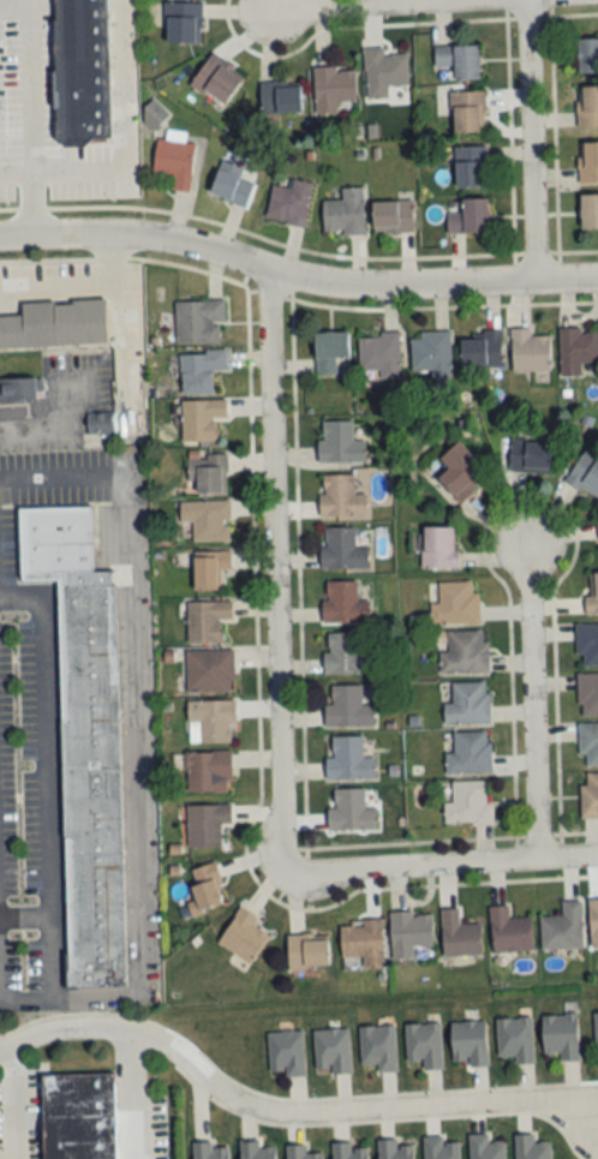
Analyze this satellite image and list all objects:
road: (531, 0)
road: (399, 6)
building: (183, 23)
building: (588, 55)
building: (459, 61)
building: (80, 71)
building: (383, 72)
building: (217, 79)
building: (333, 88)
building: (281, 98)
building: (587, 107)
building: (468, 112)
road: (526, 141)
building: (174, 162)
building: (587, 162)
building: (470, 167)
road: (56, 172)
building: (231, 185)
road: (29, 203)
building: (289, 203)
building: (588, 211)
building: (345, 213)
building: (393, 216)
building: (470, 217)
road: (295, 279)
road: (72, 283)
road: (295, 298)
building: (198, 322)
building: (55, 325)
building: (483, 350)
building: (578, 350)
building: (330, 351)
building: (530, 351)
building: (431, 353)
building: (379, 356)
building: (199, 371)
building: (19, 392)
building: (201, 420)
building: (97, 423)
road: (34, 432)
building: (340, 443)
building: (530, 456)
building: (461, 472)
building: (208, 473)
building: (586, 473)
building: (340, 497)
building: (207, 520)
building: (341, 549)
building: (438, 550)
road: (269, 568)
building: (210, 569)
building: (592, 593)
building: (343, 603)
building: (455, 604)
building: (207, 621)
building: (587, 644)
building: (461, 653)
building: (345, 655)
building: (210, 671)
road: (532, 692)
building: (587, 694)
building: (468, 704)
building: (348, 707)
building: (211, 722)
building: (84, 739)
road: (131, 739)
building: (588, 742)
building: (470, 753)
building: (348, 760)
building: (209, 772)
building: (588, 796)
building: (468, 805)
building: (351, 813)
building: (207, 825)
road: (439, 865)
building: (205, 889)
building: (593, 924)
building: (563, 927)
building: (510, 931)
building: (409, 932)
building: (459, 934)
building: (243, 936)
building: (363, 942)
building: (307, 951)
building: (596, 1029)
building: (561, 1034)
building: (515, 1036)
building: (468, 1041)
building: (424, 1042)
building: (378, 1045)
building: (331, 1049)
building: (286, 1052)
road: (132, 1094)
road: (12, 1100)
road: (286, 1109)
building: (82, 1112)
building: (441, 1147)
building: (485, 1147)
building: (531, 1147)
building: (258, 1149)
building: (394, 1149)
building: (210, 1151)
building: (348, 1151)
building: (301, 1152)

